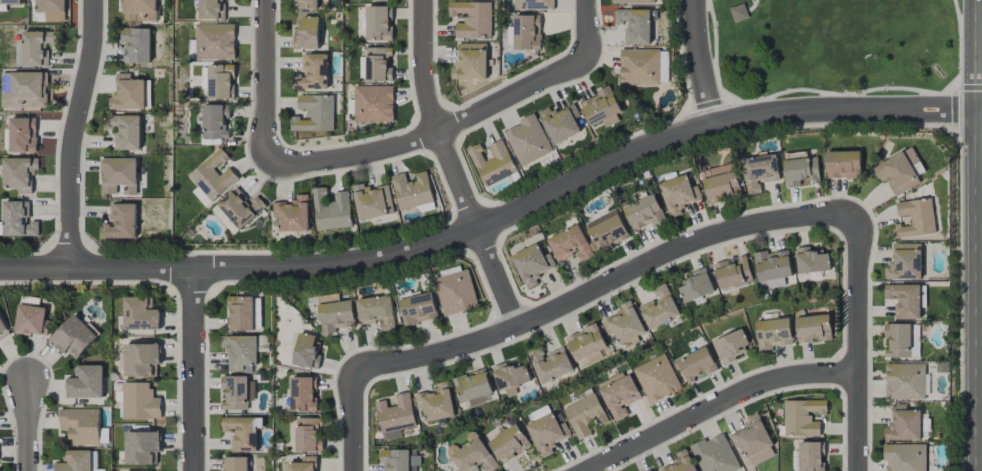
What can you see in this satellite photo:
building: (379, 0)
building: (633, 1)
building: (10, 2)
building: (305, 4)
building: (534, 4)
building: (50, 6)
building: (138, 10)
building: (210, 10)
building: (738, 12)
building: (472, 19)
building: (378, 23)
building: (634, 25)
road: (586, 28)
building: (527, 32)
building: (307, 33)
building: (214, 41)
building: (136, 45)
park: (839, 46)
building: (37, 47)
building: (470, 62)
road: (701, 63)
building: (378, 64)
building: (663, 66)
building: (639, 67)
building: (313, 72)
building: (221, 81)
road: (267, 82)
building: (23, 90)
building: (127, 93)
building: (373, 103)
building: (601, 108)
building: (315, 113)
building: (216, 121)
building: (560, 122)
building: (124, 131)
road: (433, 131)
road: (73, 133)
building: (22, 134)
building: (528, 140)
building: (493, 163)
building: (842, 164)
road: (451, 167)
building: (801, 171)
building: (899, 171)
building: (759, 172)
building: (19, 173)
building: (118, 175)
building: (213, 176)
building: (722, 183)
building: (412, 190)
building: (678, 194)
building: (201, 196)
building: (372, 201)
building: (237, 210)
building: (331, 210)
building: (644, 213)
building: (292, 214)
building: (915, 218)
building: (18, 219)
road: (498, 219)
building: (121, 222)
building: (607, 231)
building: (570, 245)
building: (811, 260)
building: (904, 262)
building: (532, 264)
building: (772, 268)
building: (732, 273)
road: (606, 283)
building: (695, 286)
building: (456, 292)
building: (904, 300)
building: (659, 308)
building: (418, 309)
building: (376, 311)
building: (240, 313)
building: (335, 313)
building: (140, 314)
building: (31, 320)
building: (624, 323)
building: (813, 328)
building: (3, 330)
building: (773, 333)
building: (901, 340)
road: (861, 343)
building: (586, 345)
building: (731, 345)
building: (240, 351)
building: (306, 351)
building: (140, 360)
building: (550, 364)
building: (695, 364)
road: (193, 370)
building: (510, 375)
building: (656, 378)
building: (85, 382)
building: (905, 382)
building: (473, 388)
building: (237, 392)
building: (304, 394)
building: (619, 394)
building: (139, 401)
building: (435, 402)
road: (716, 404)
building: (585, 415)
building: (395, 416)
road: (355, 417)
building: (802, 417)
building: (903, 424)
building: (80, 425)
road: (29, 427)
building: (242, 432)
building: (547, 434)
building: (308, 435)
building: (753, 440)
building: (509, 443)
building: (141, 447)
building: (714, 454)
building: (472, 455)
building: (811, 456)
building: (905, 457)
building: (398, 459)
building: (74, 461)
building: (680, 462)
building: (234, 464)
building: (303, 464)
building: (149, 470)
building: (650, 470)

